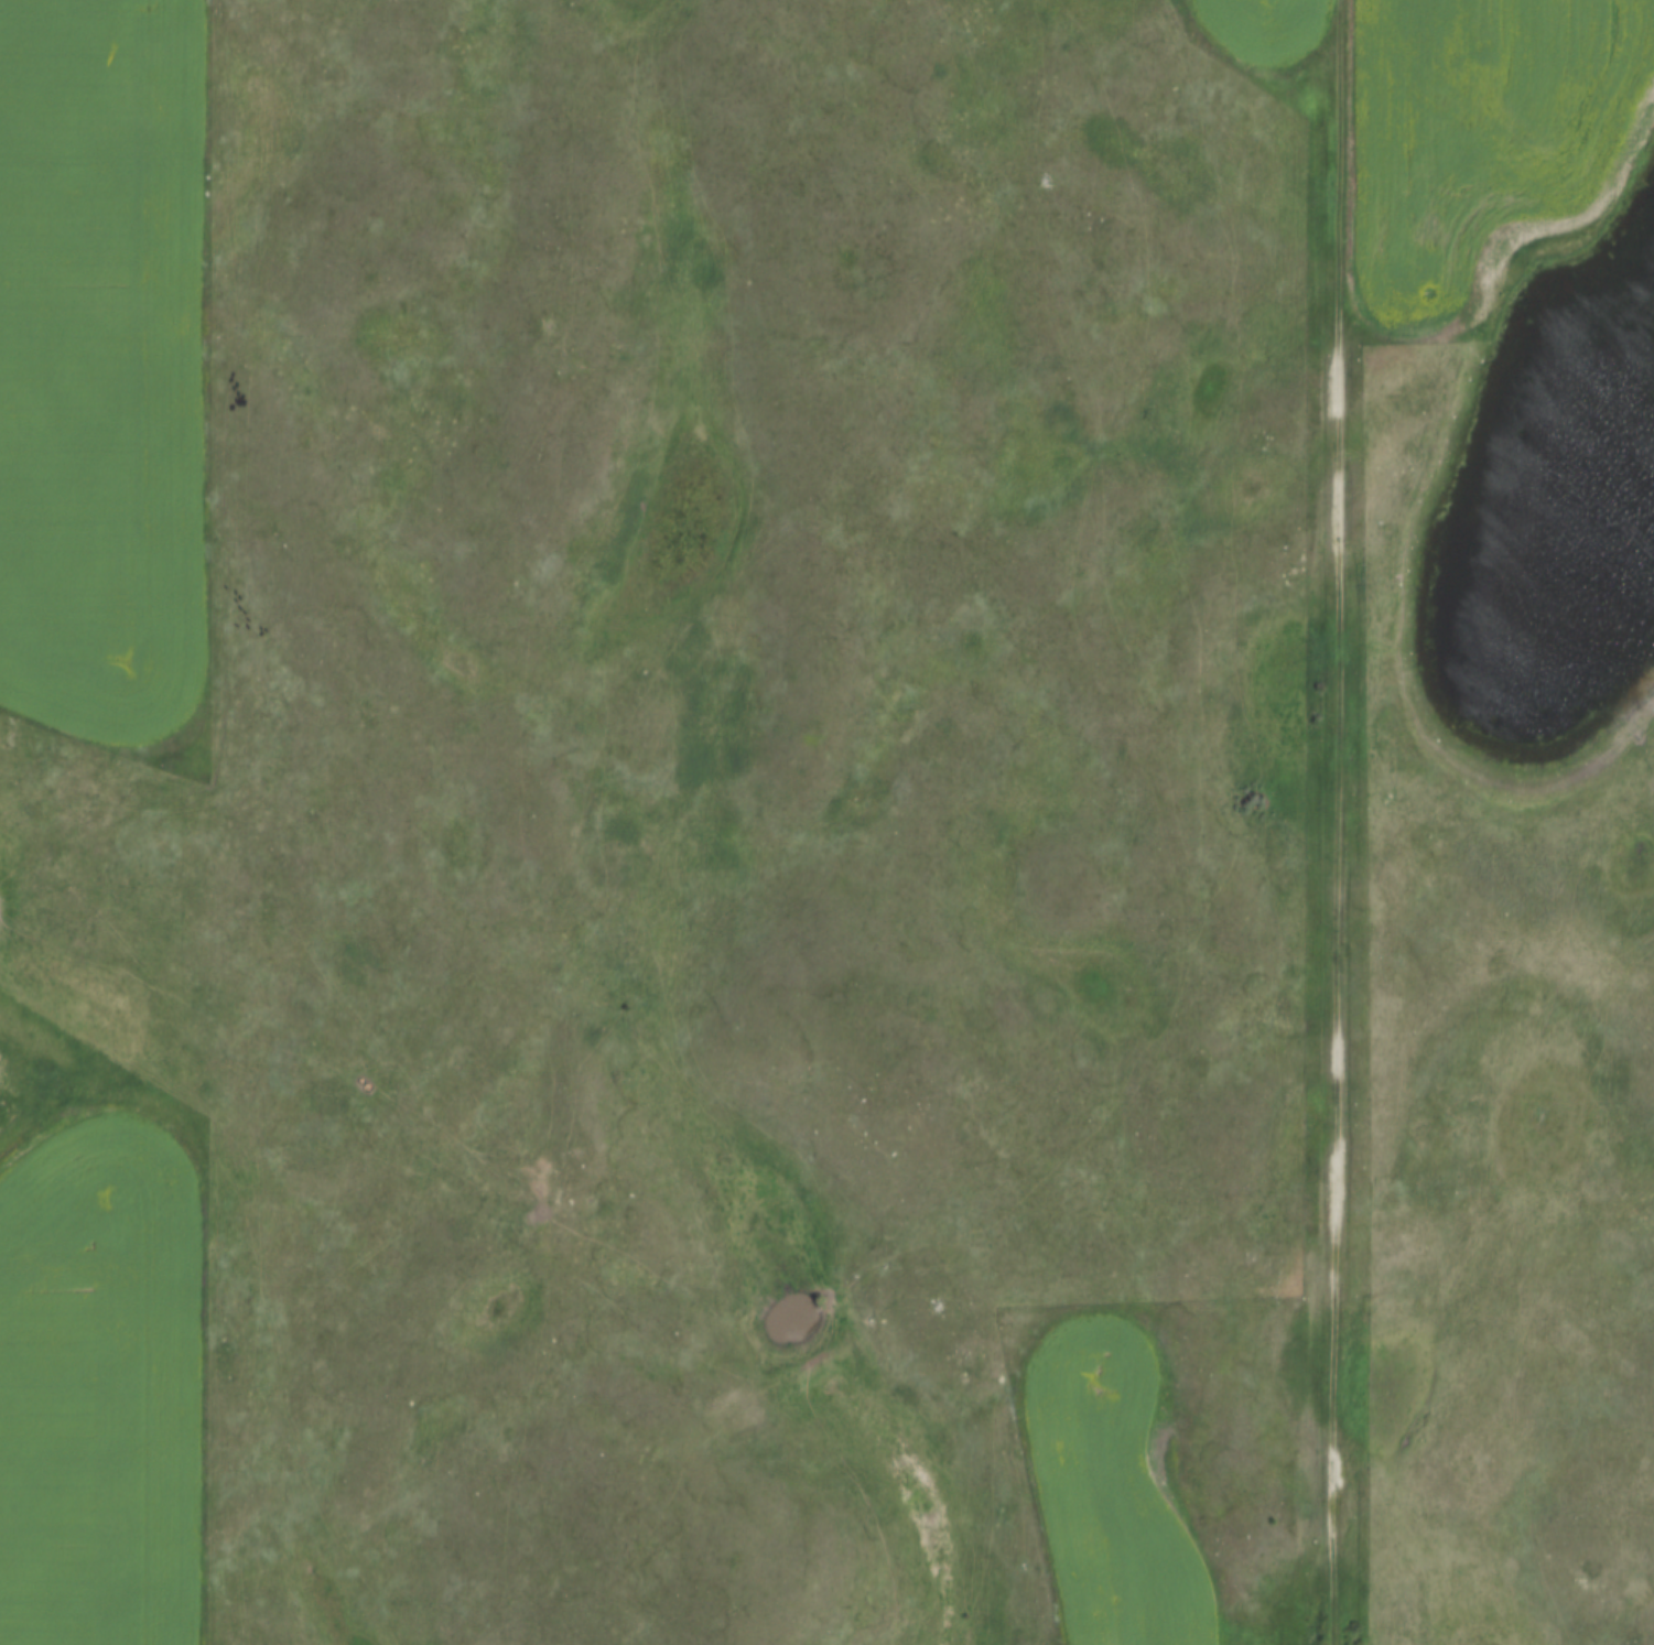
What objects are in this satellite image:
road: (1337, 822)

